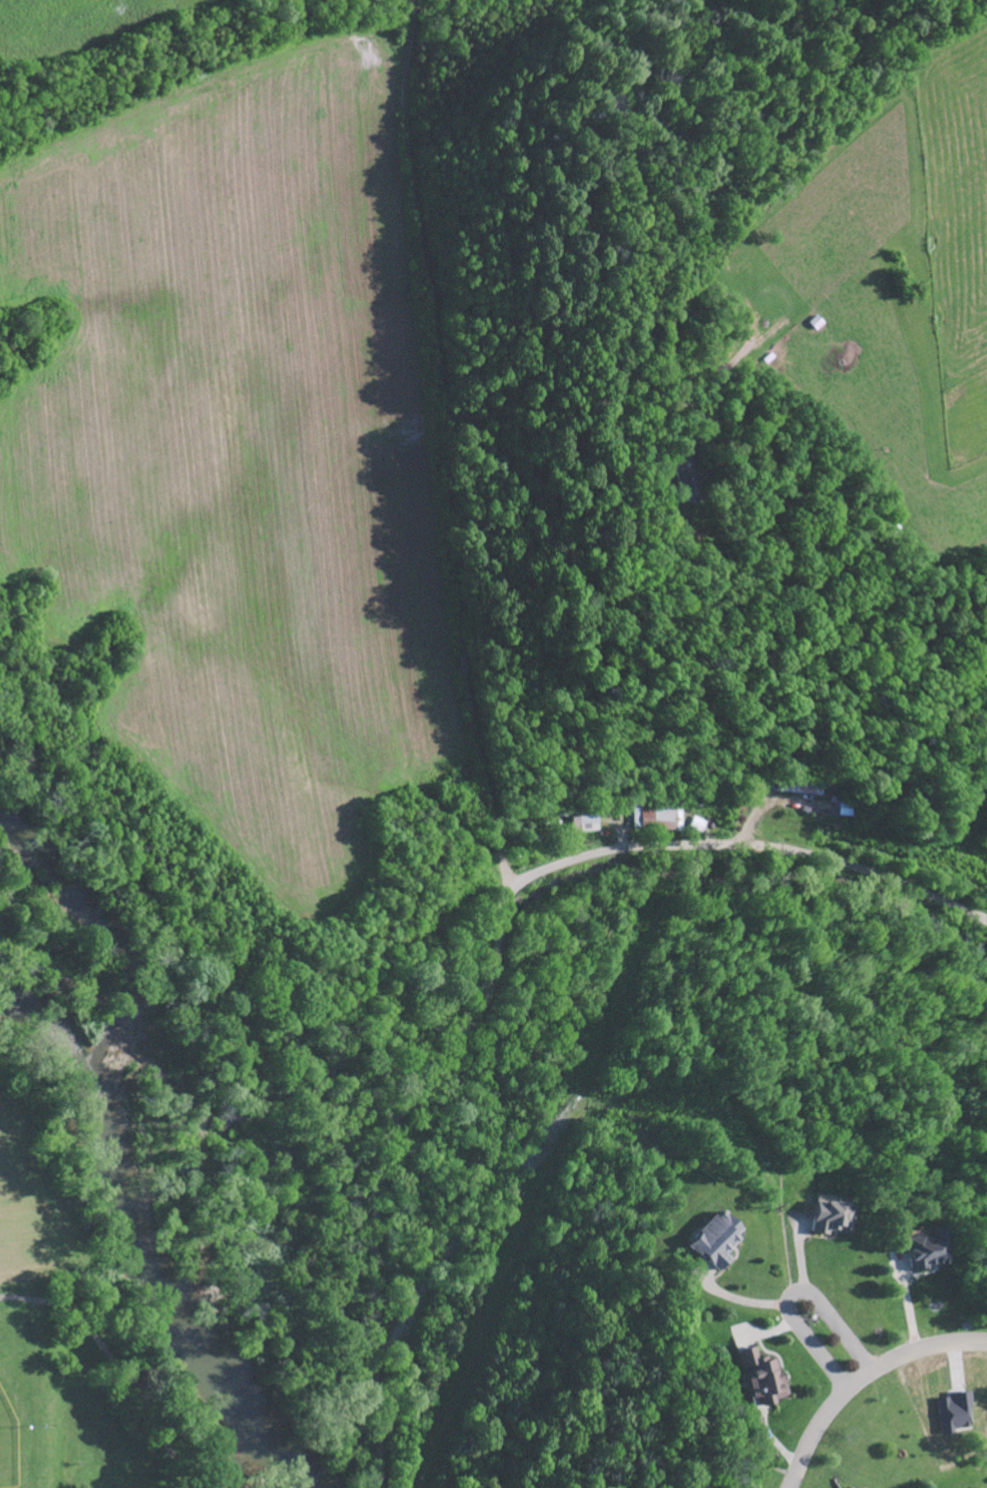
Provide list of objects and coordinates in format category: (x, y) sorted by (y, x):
road: (447, 448)
building: (686, 482)
road: (626, 613)
building: (656, 817)
building: (585, 820)
building: (698, 825)
road: (499, 958)
building: (828, 1218)
river: (149, 1233)
building: (713, 1241)
building: (925, 1250)
road: (795, 1297)
road: (115, 1362)
building: (759, 1379)
road: (862, 1379)
park: (106, 1403)
park: (7, 1445)

